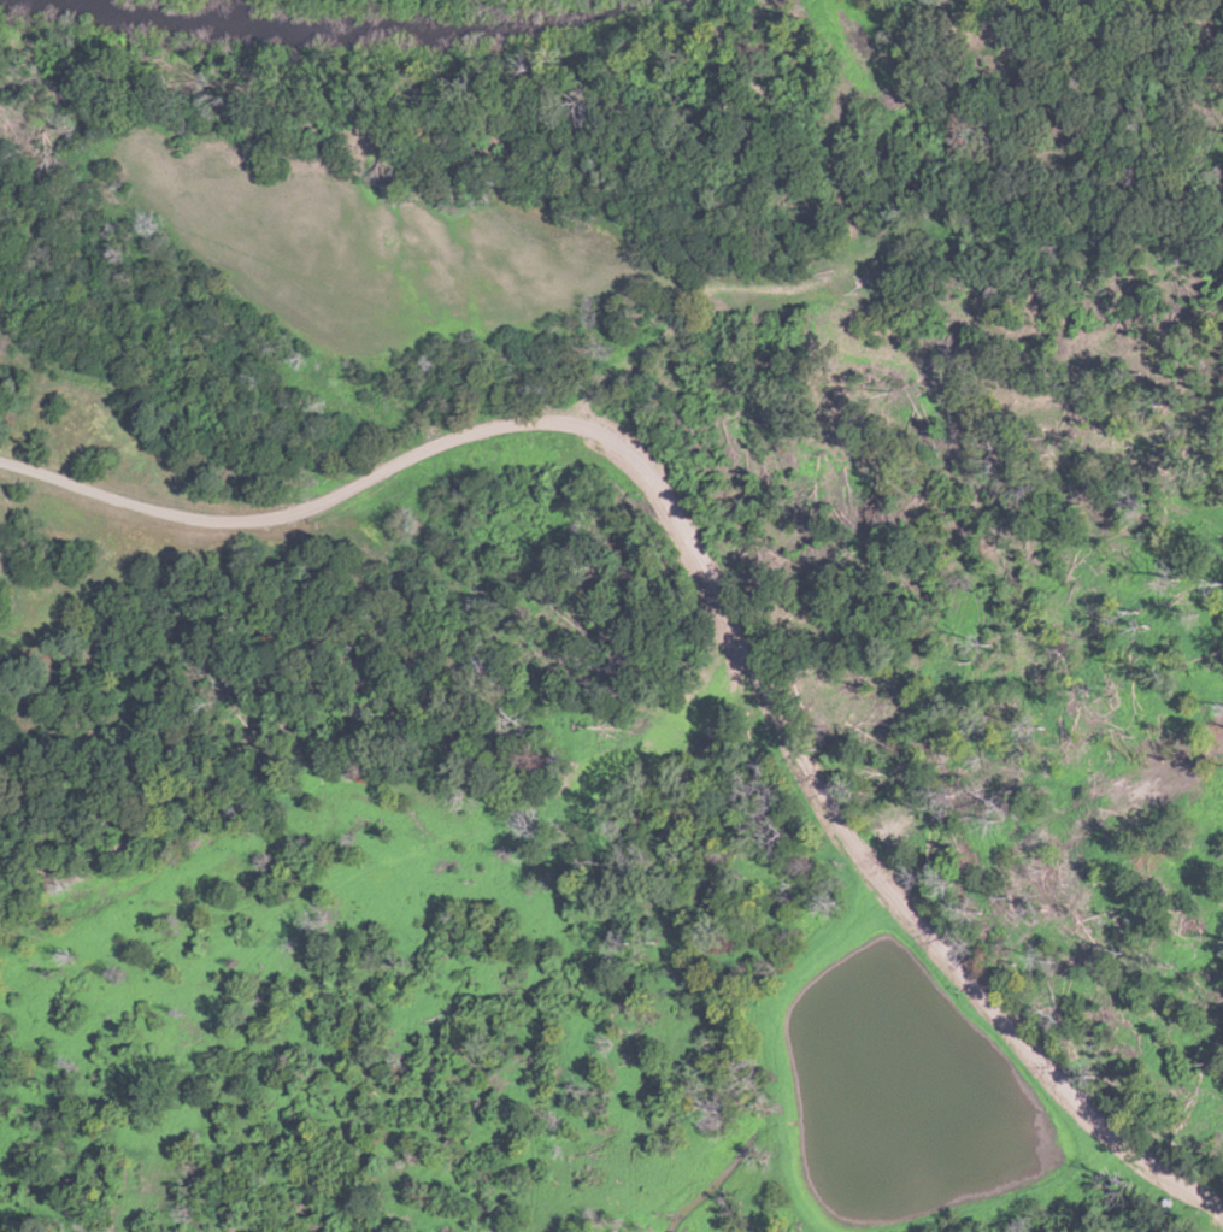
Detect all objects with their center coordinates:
road: (708, 317)
road: (707, 589)

